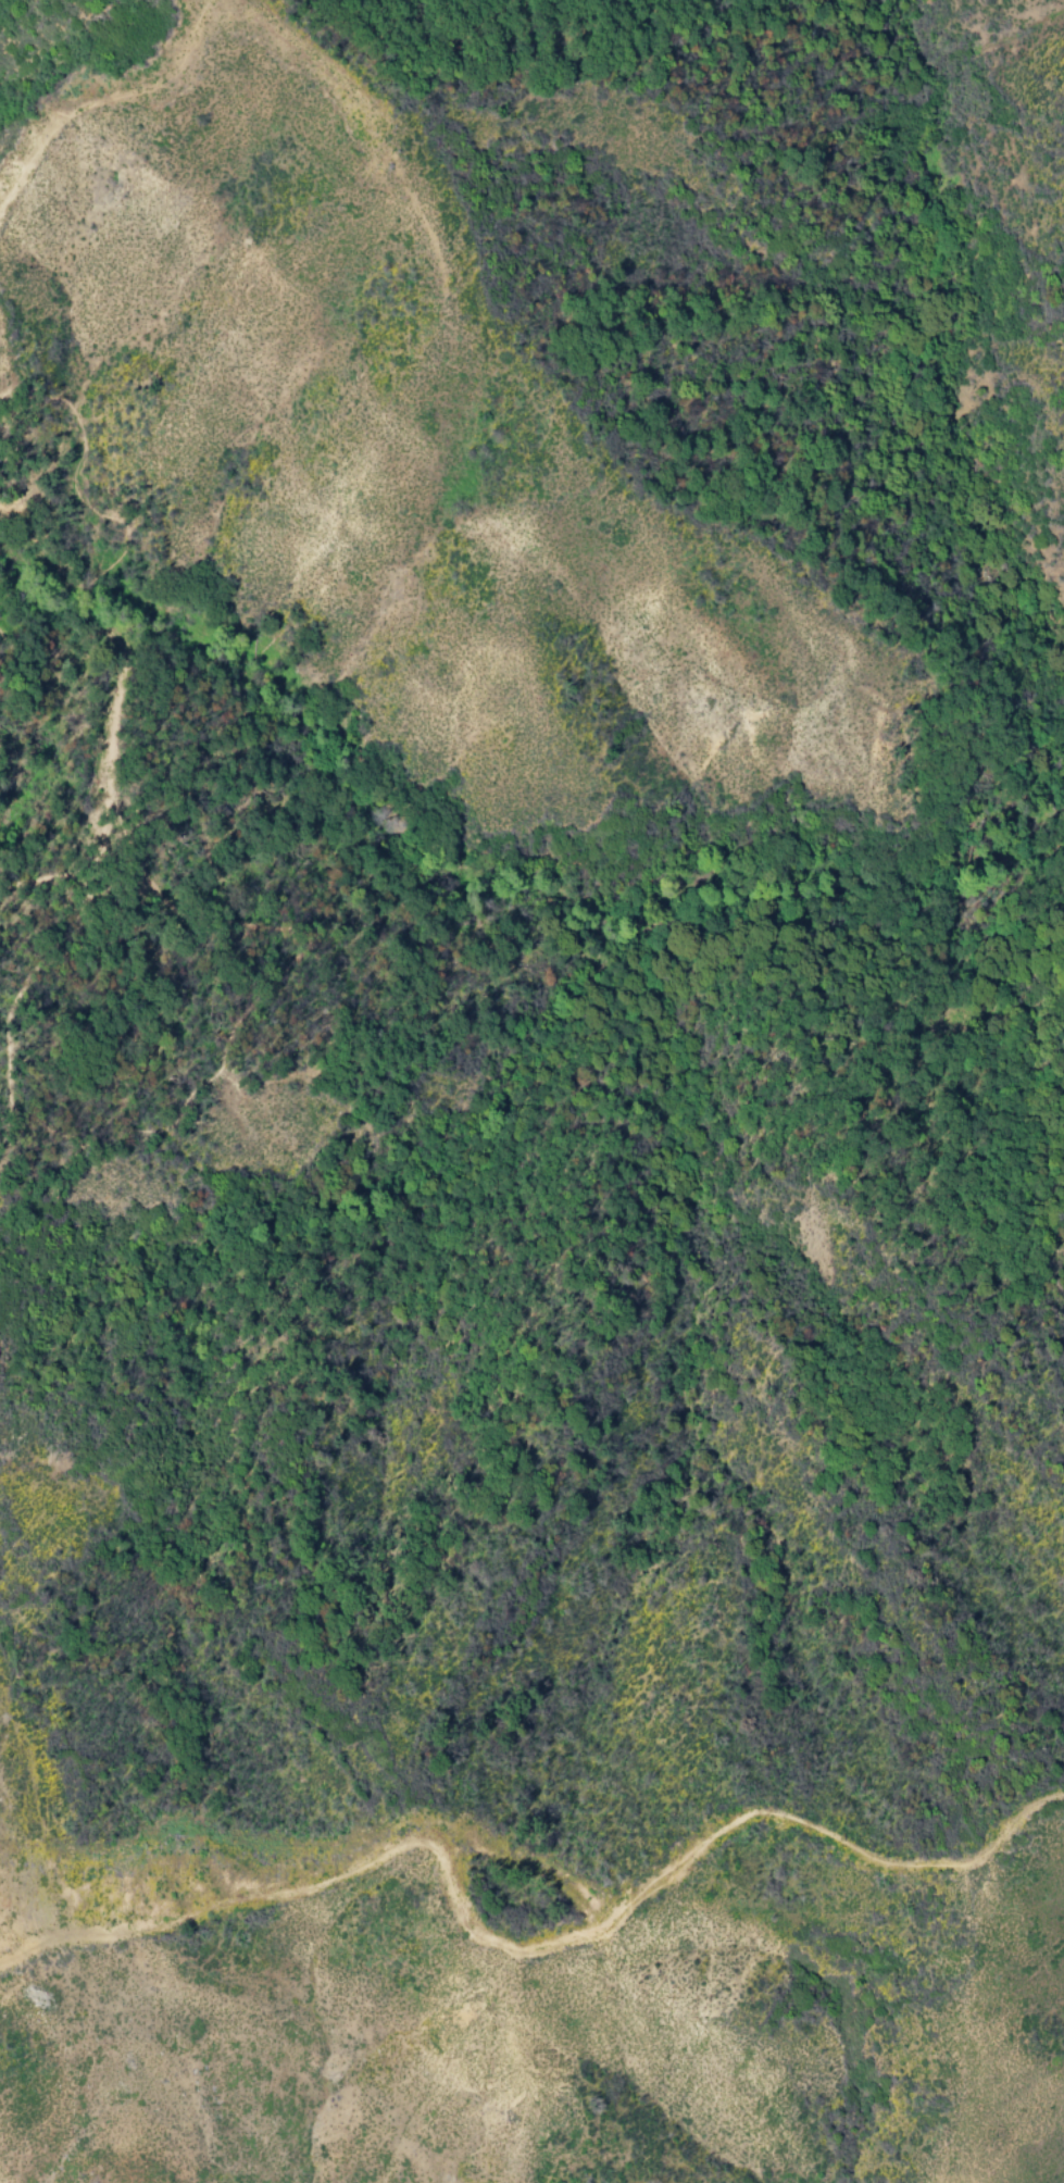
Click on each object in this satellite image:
road: (528, 1955)

